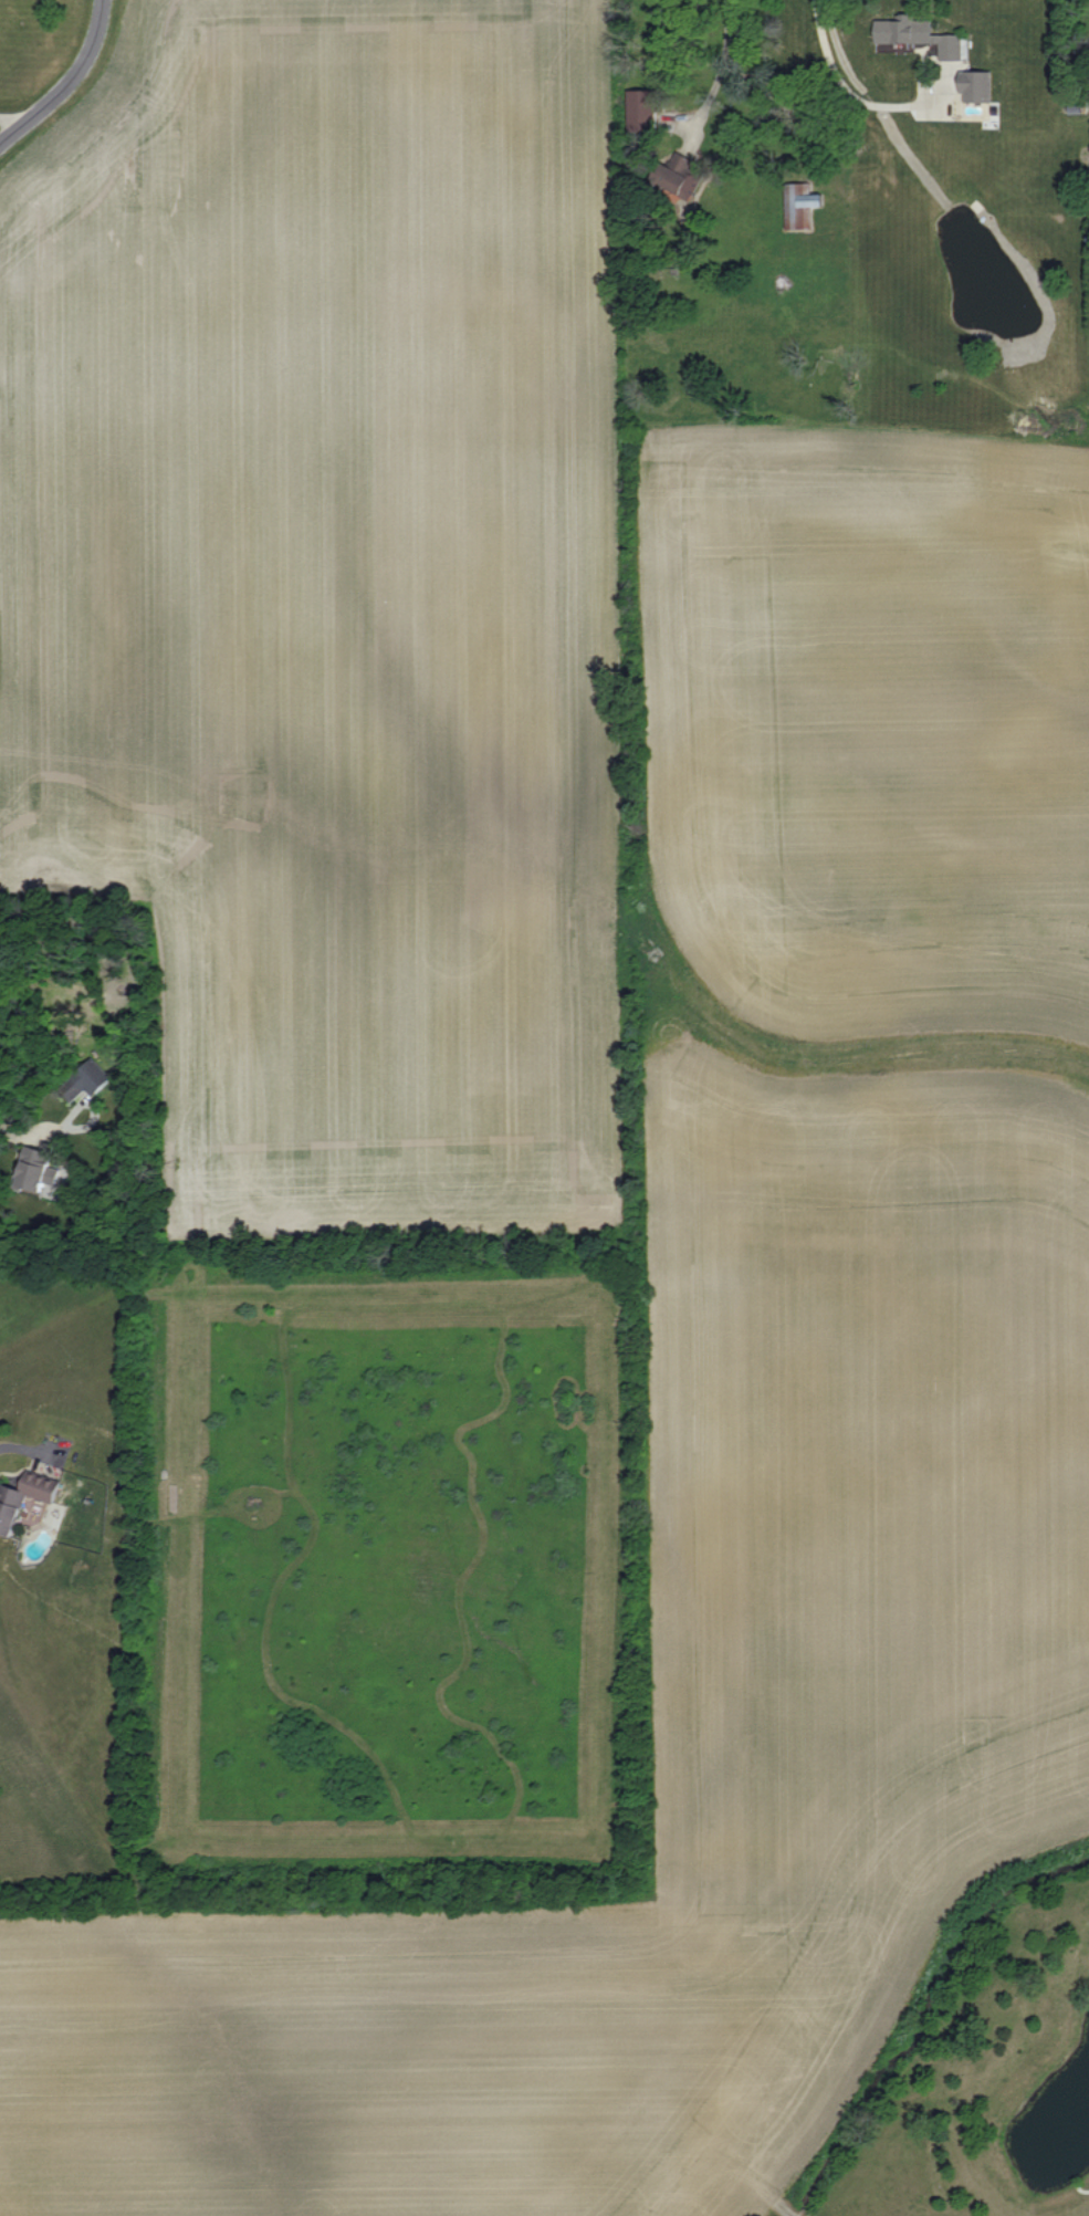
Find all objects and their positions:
building: (913, 34)
road: (720, 77)
road: (66, 82)
building: (972, 85)
building: (636, 109)
building: (671, 176)
building: (796, 206)
building: (81, 1079)
building: (27, 1171)
road: (21, 1447)
building: (6, 1518)

